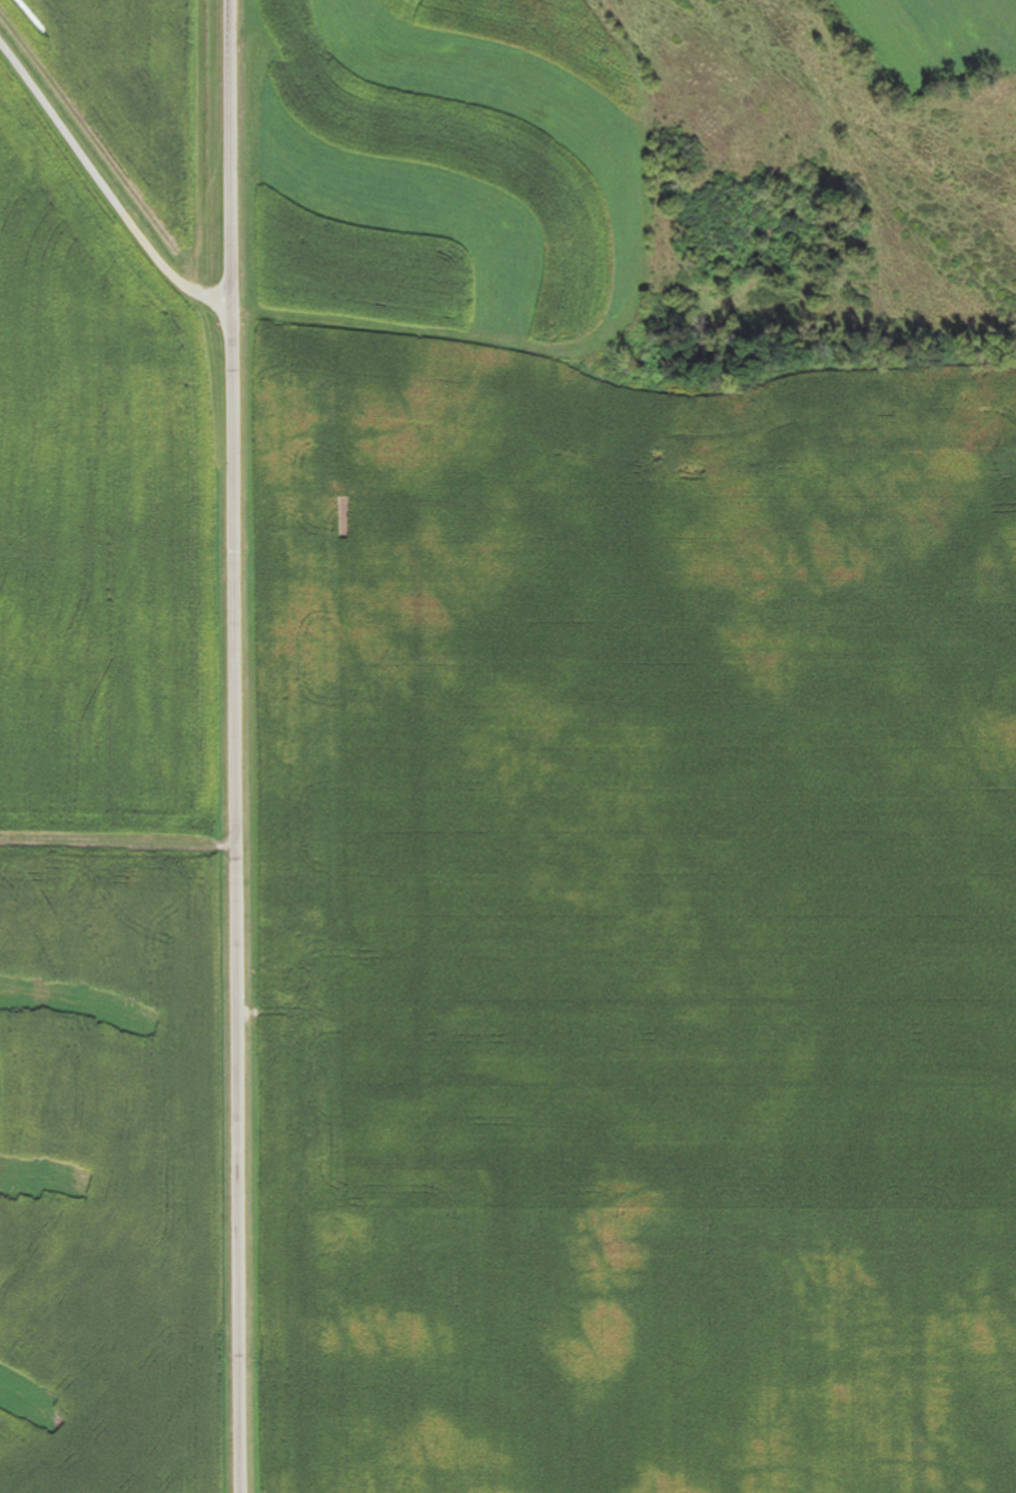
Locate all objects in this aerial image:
road: (109, 215)
road: (218, 746)

